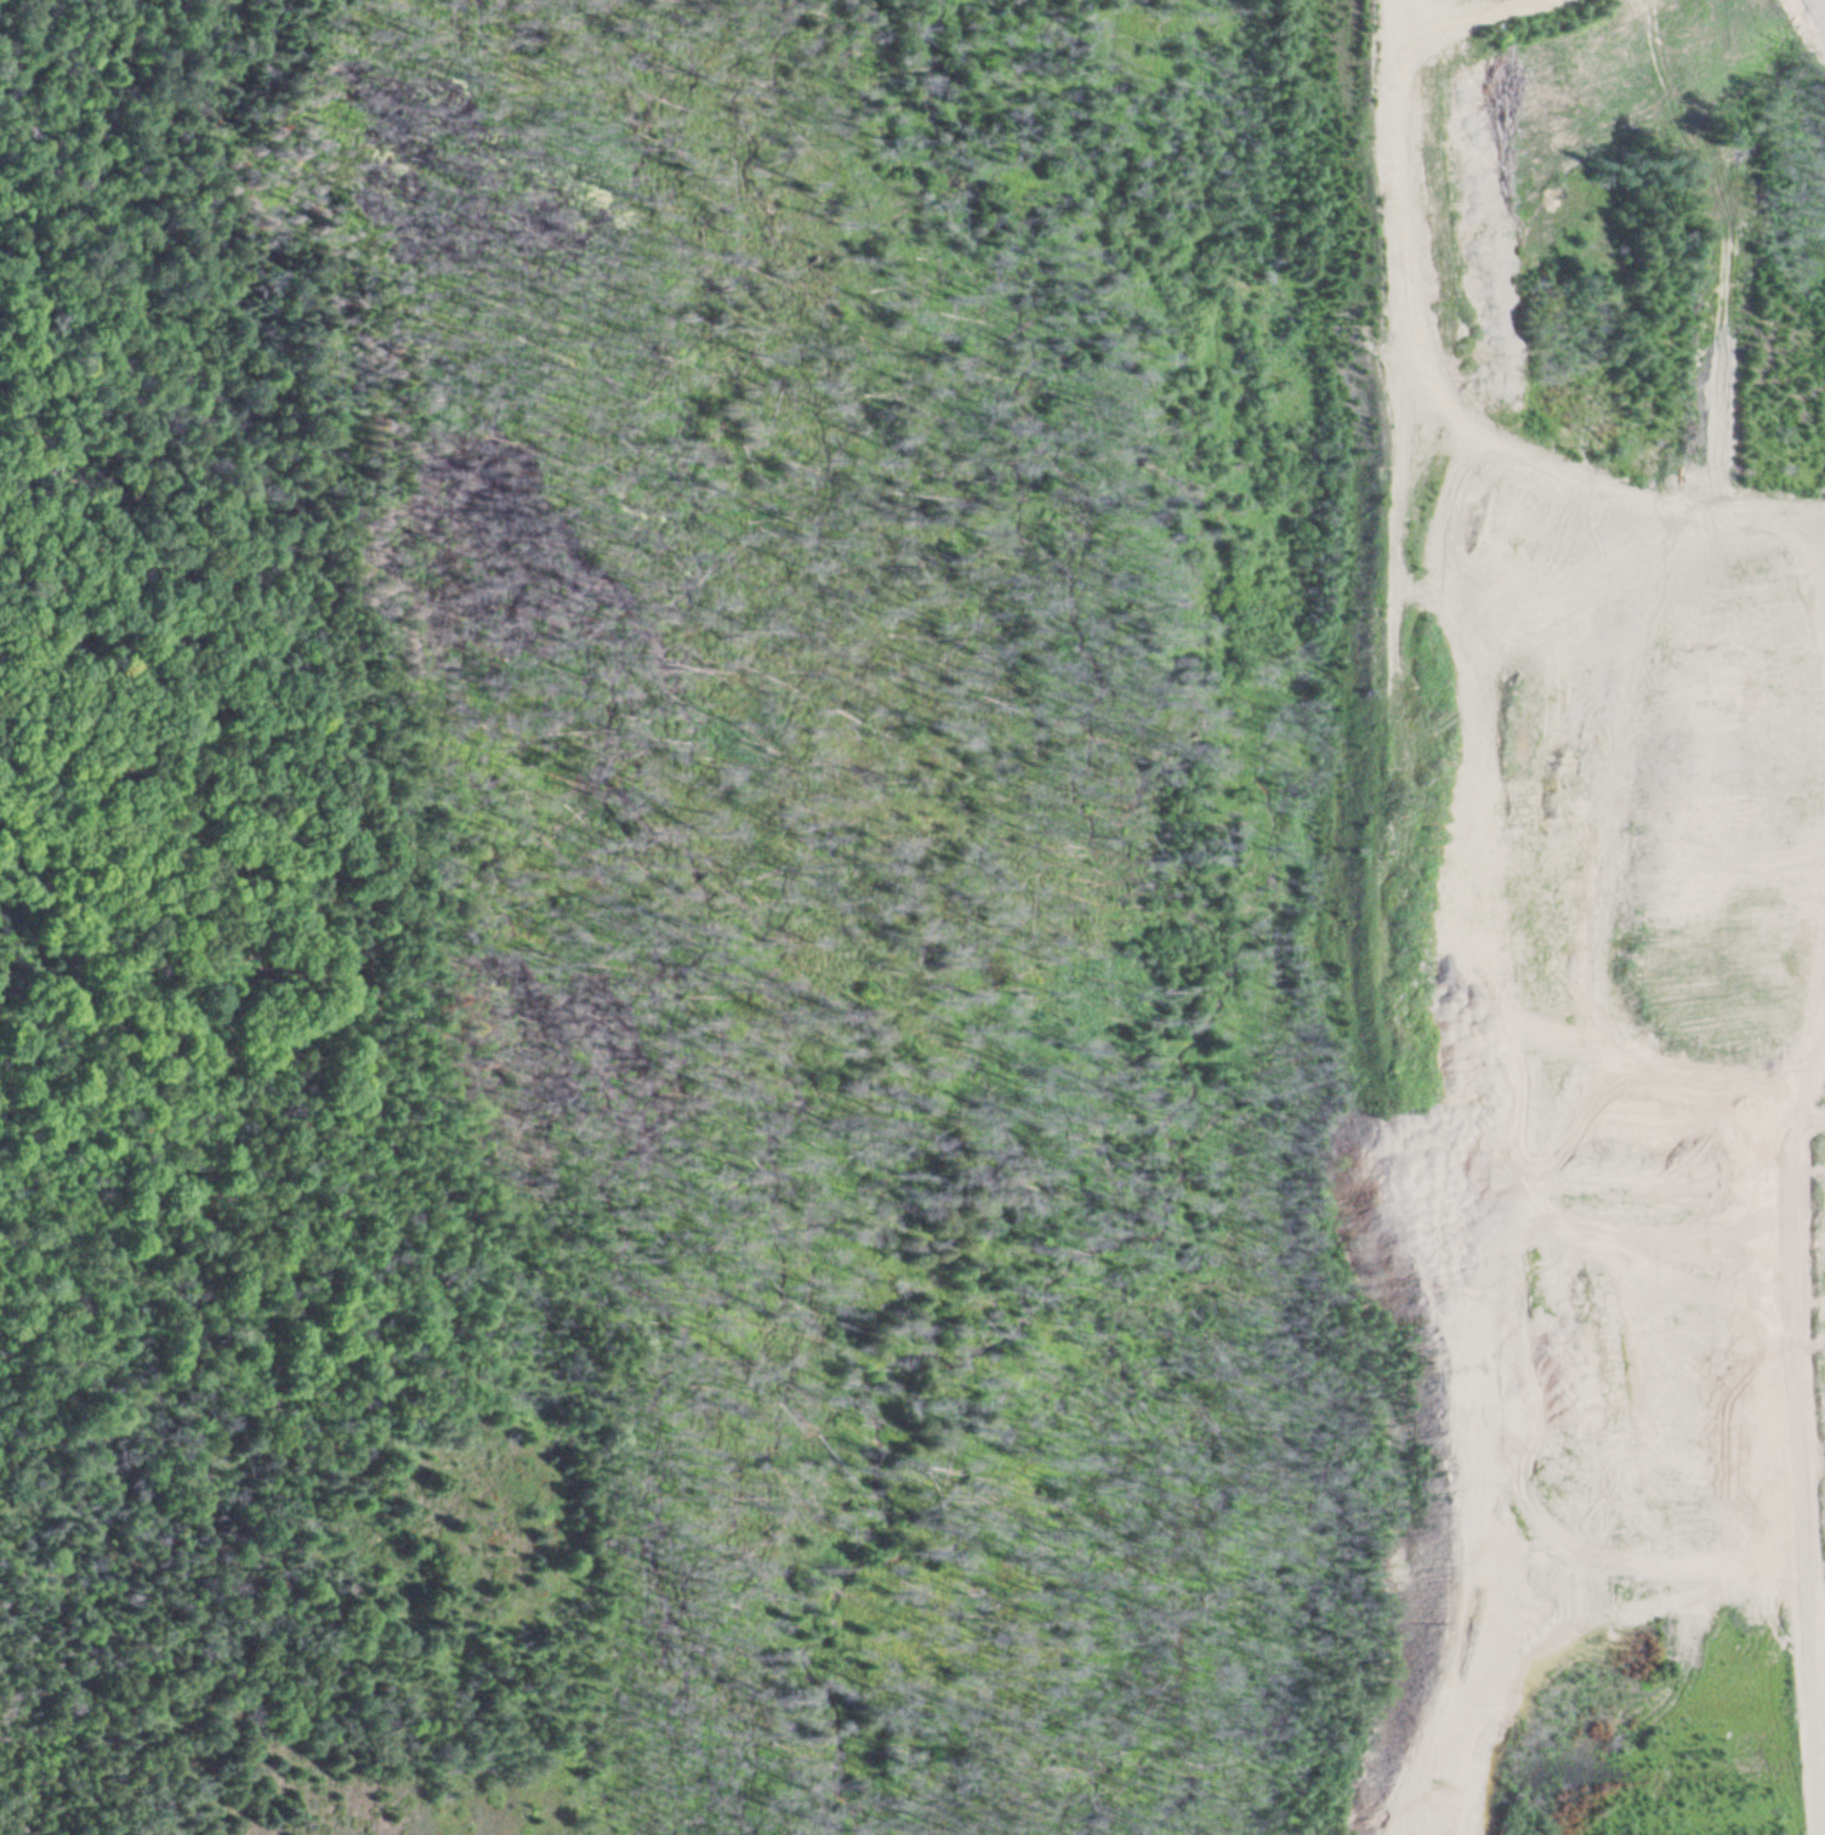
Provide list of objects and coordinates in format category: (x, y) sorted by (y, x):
park: (364, 682)
quarry: (1274, 920)

